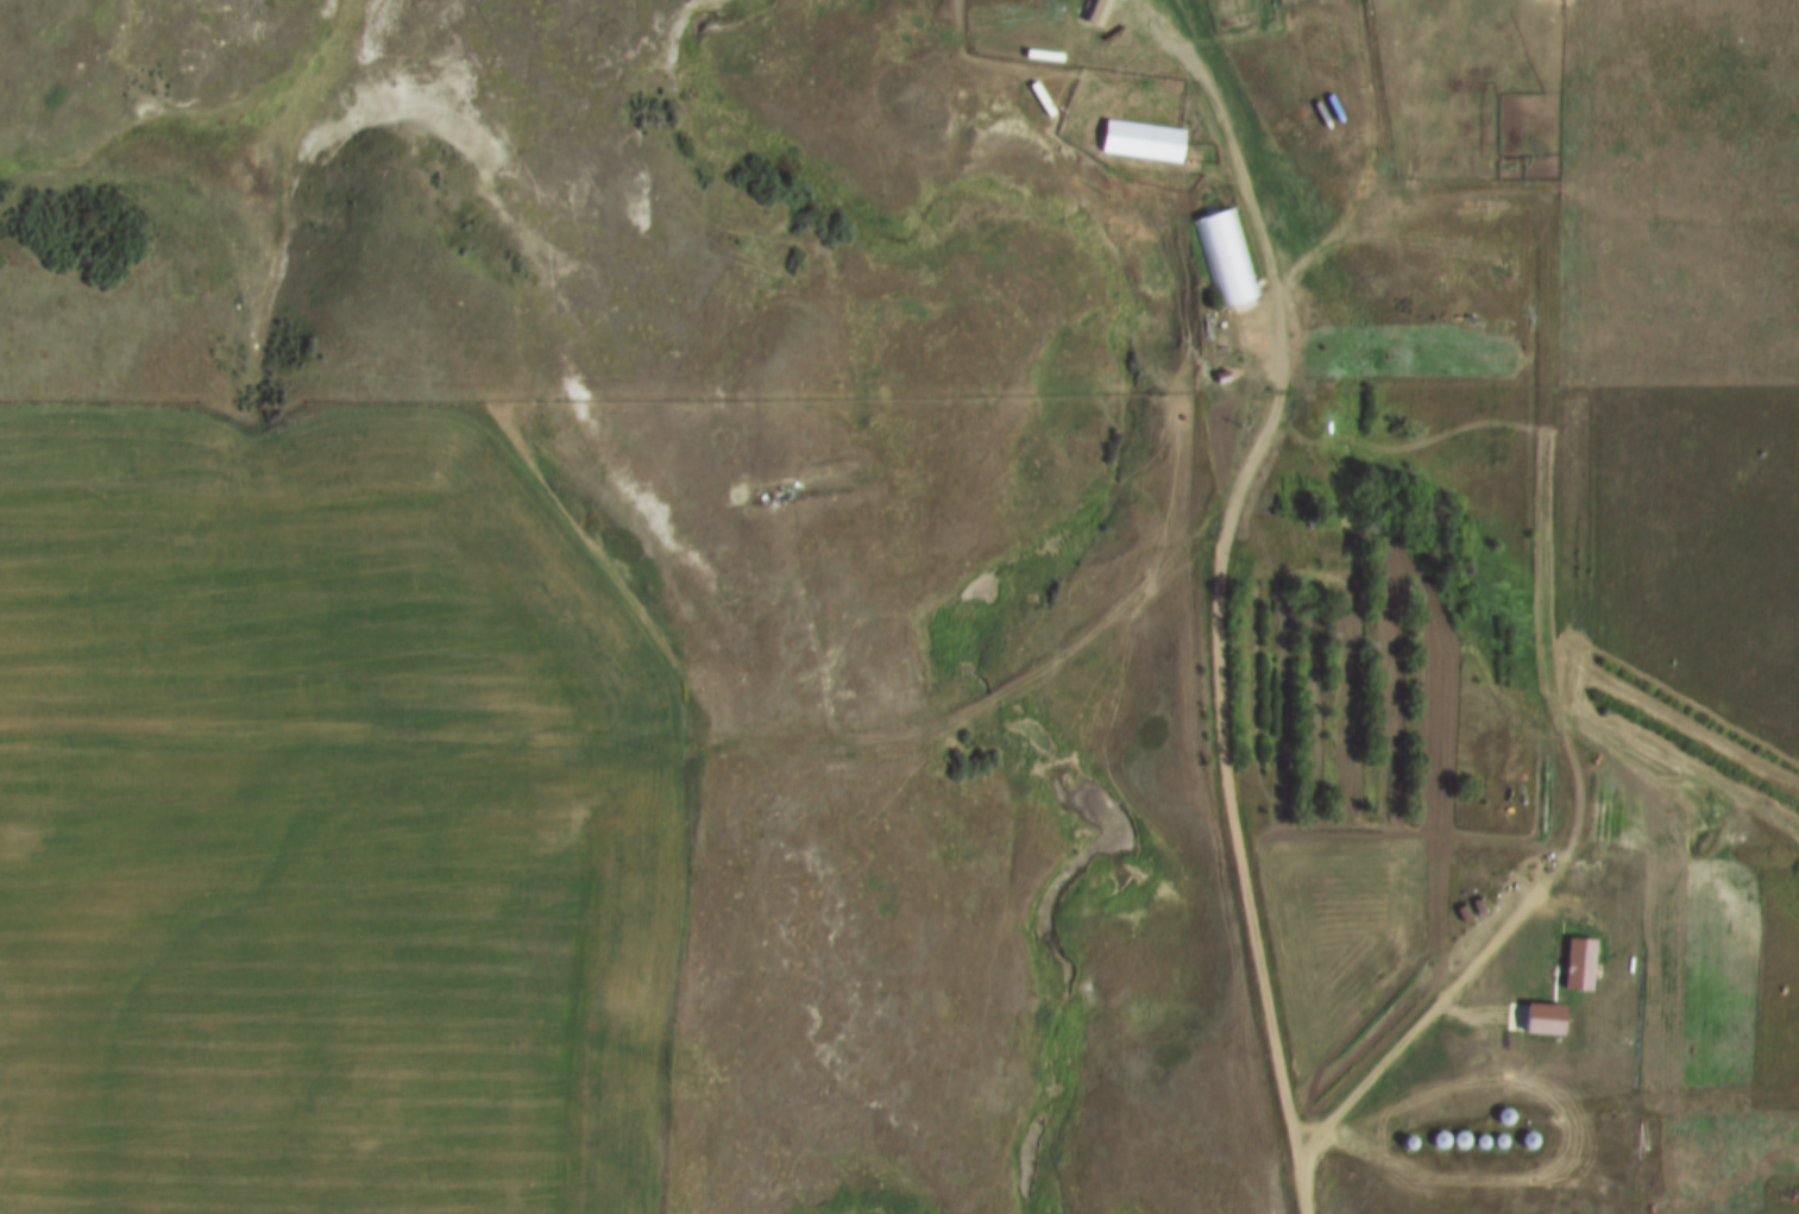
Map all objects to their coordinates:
building: (1144, 143)
road: (1064, 152)
building: (1224, 262)
building: (1301, 501)
road: (1489, 589)
road: (1213, 591)
road: (641, 737)
building: (1581, 965)
road: (1415, 1025)

